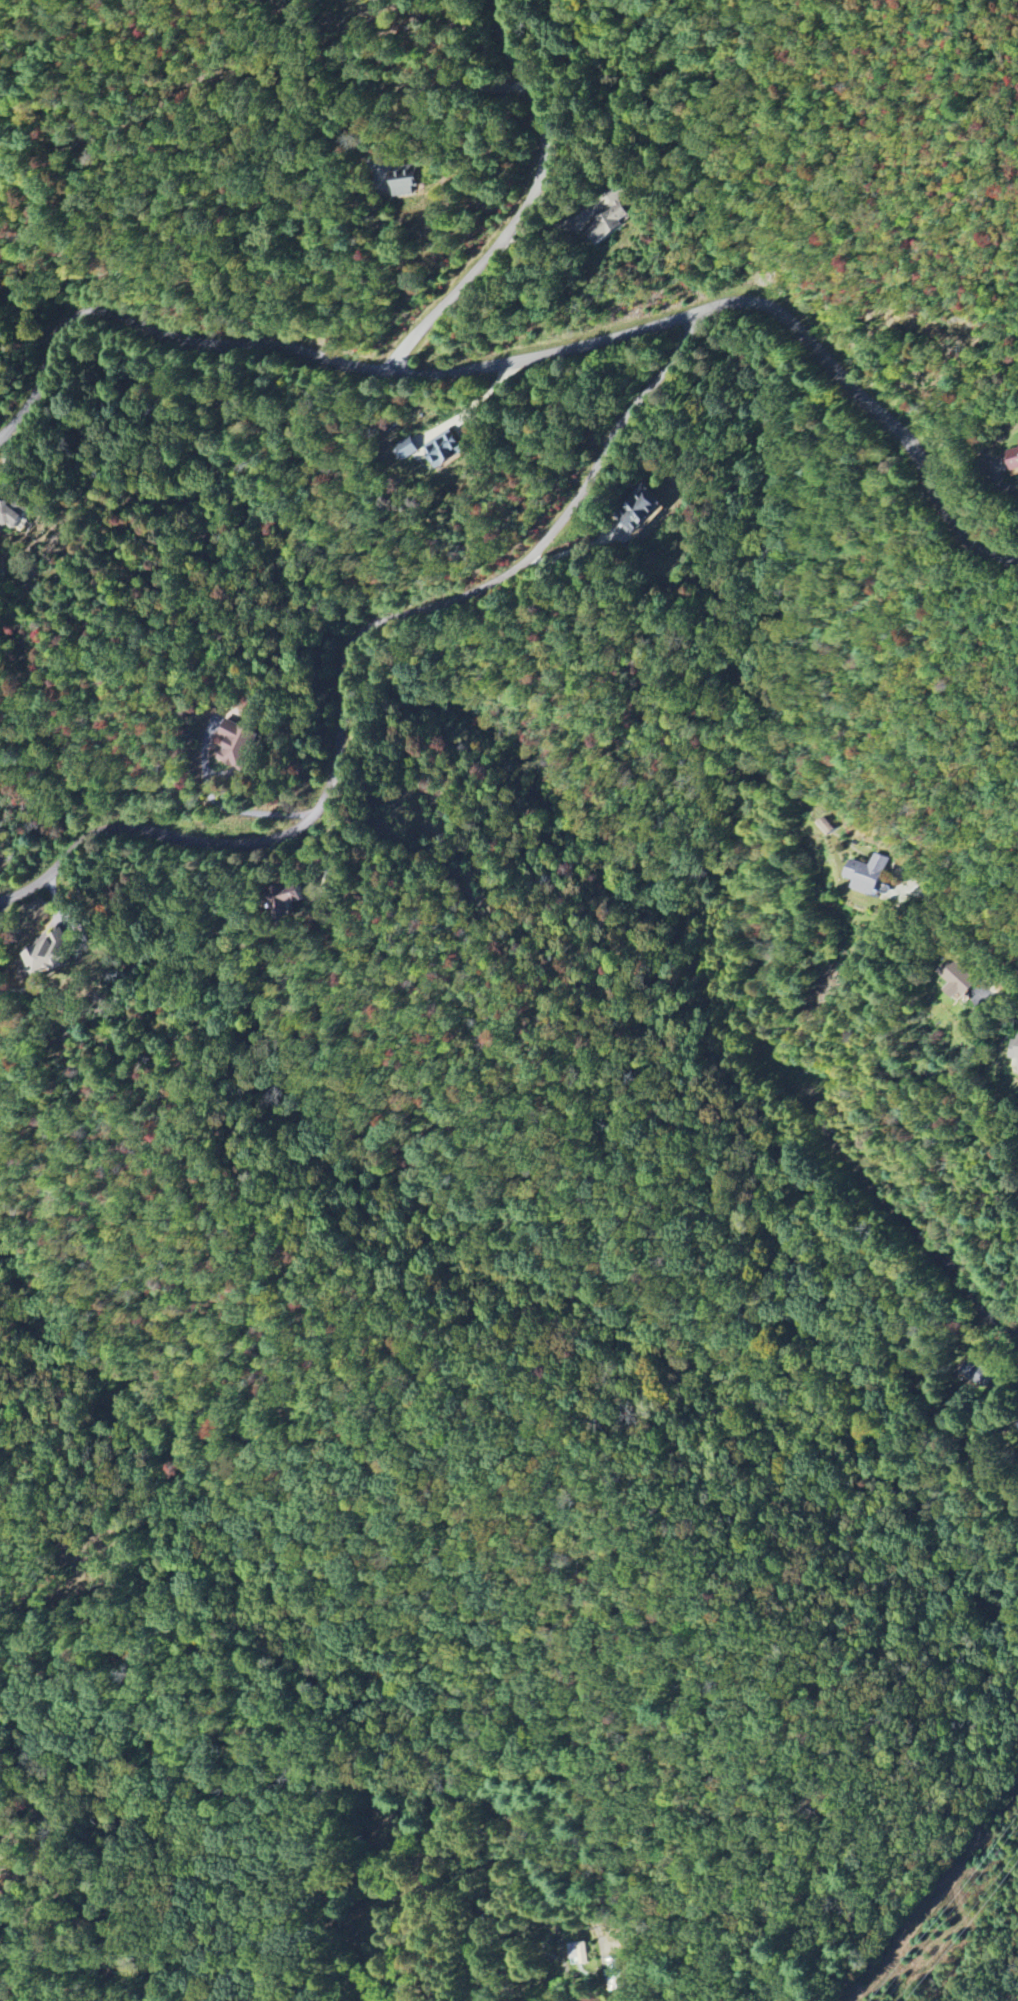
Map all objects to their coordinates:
road: (408, 90)
road: (531, 205)
building: (610, 224)
road: (761, 302)
road: (161, 332)
building: (445, 449)
road: (346, 658)
road: (224, 804)
building: (827, 827)
building: (867, 875)
road: (982, 930)
building: (47, 958)
building: (962, 986)
road: (913, 1227)
road: (991, 1308)
road: (996, 1464)
road: (449, 1819)
building: (616, 1970)

